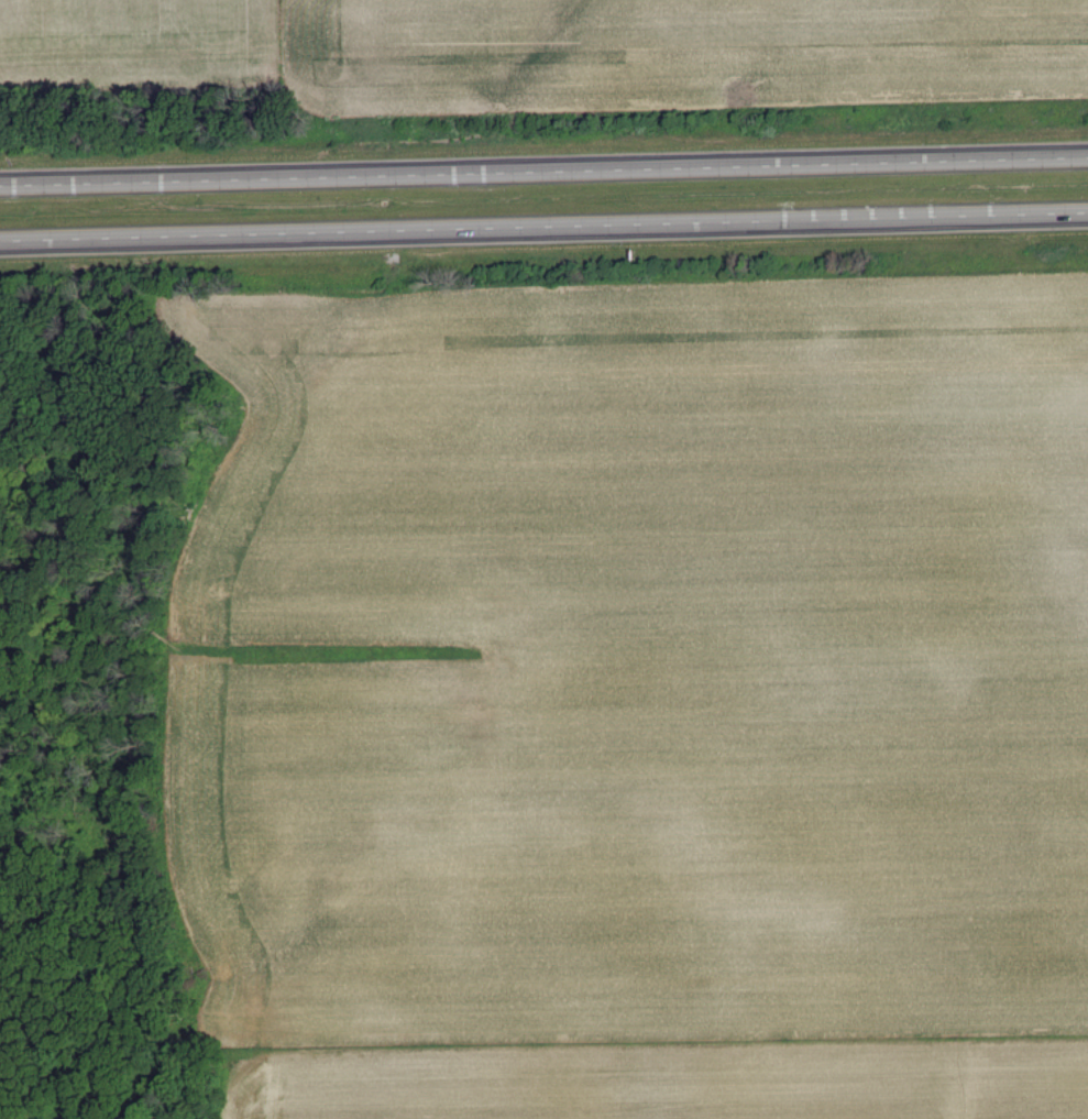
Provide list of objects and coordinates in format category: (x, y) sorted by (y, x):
road: (543, 171)
road: (543, 227)

